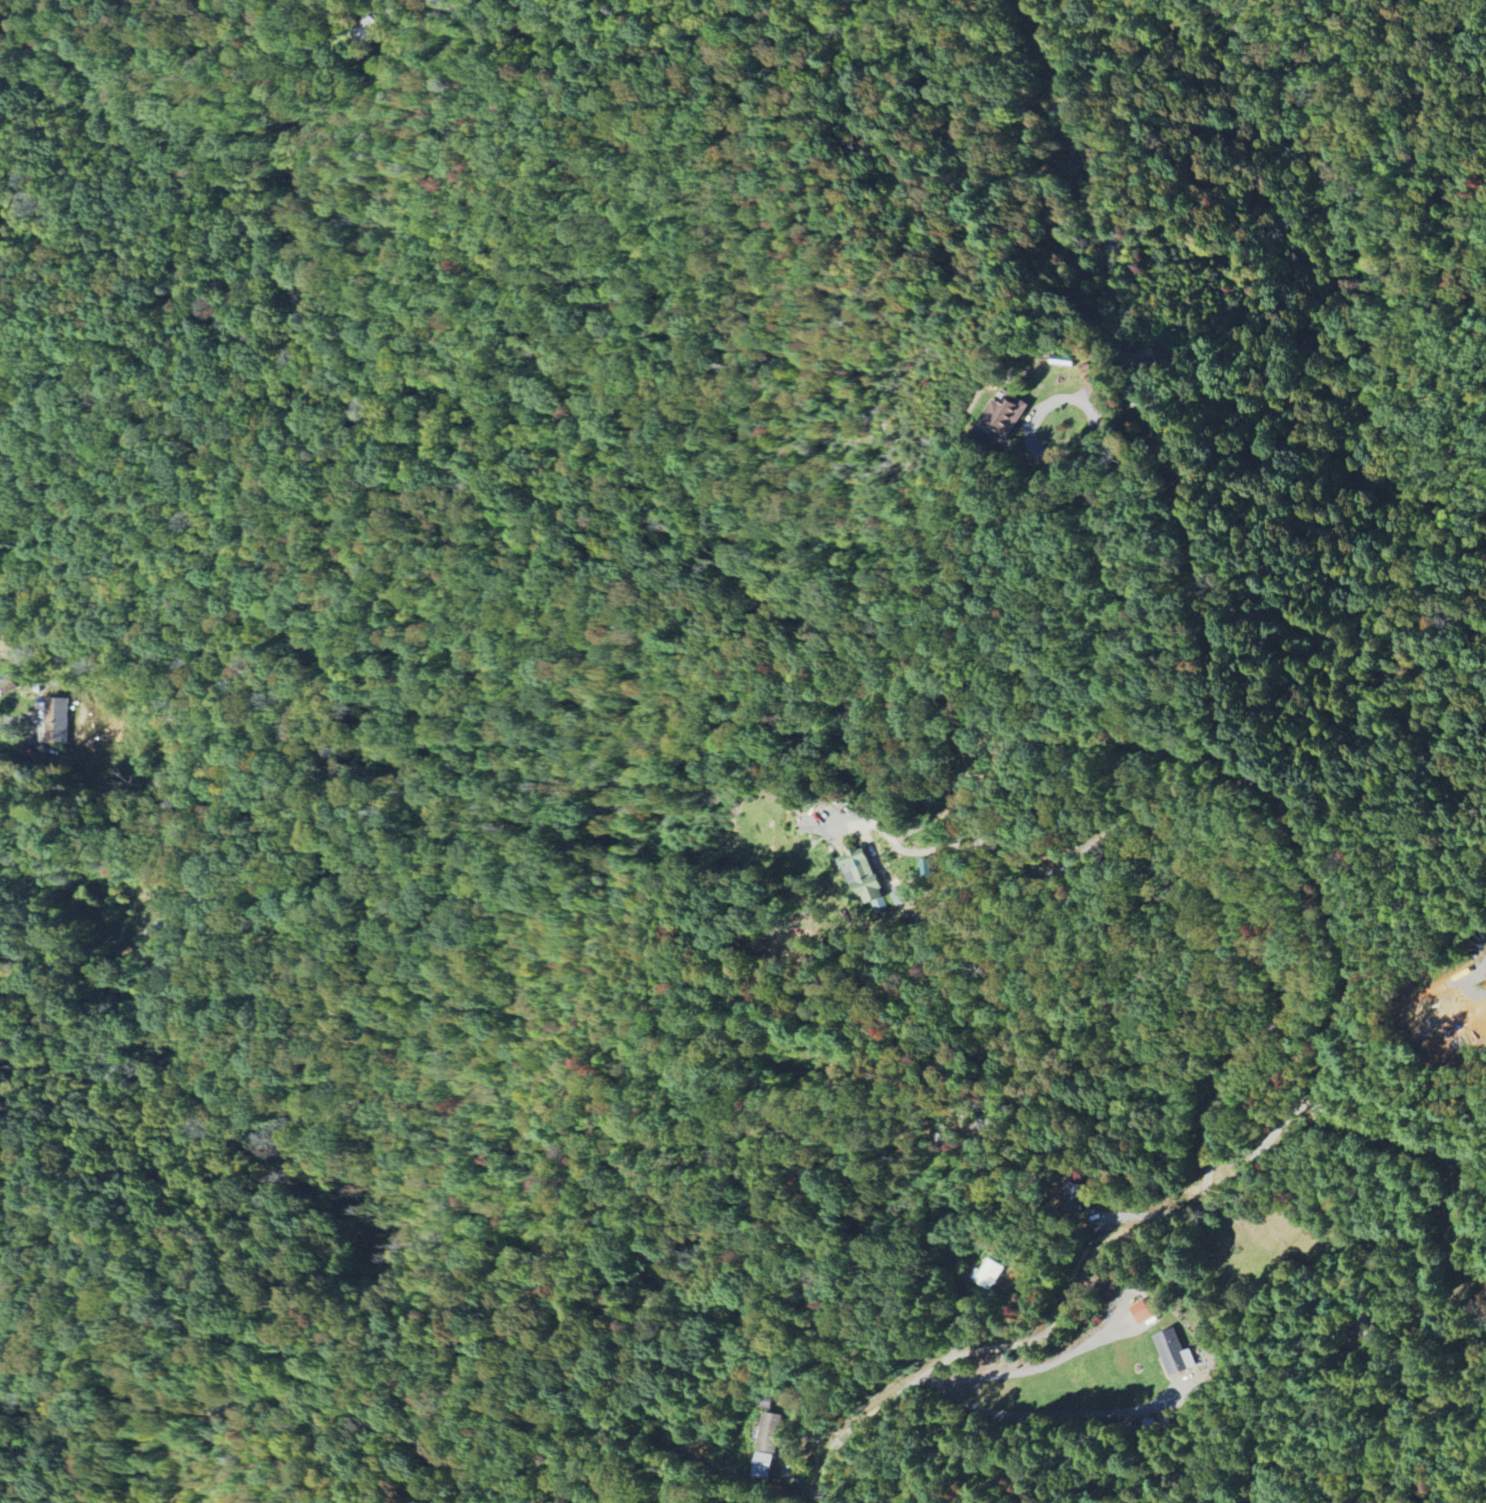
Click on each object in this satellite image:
building: (1092, 391)
building: (1003, 413)
building: (988, 434)
building: (55, 720)
road: (1126, 756)
road: (1003, 843)
building: (929, 868)
building: (860, 875)
building: (900, 898)
road: (1325, 1110)
building: (990, 1273)
building: (1142, 1311)
road: (1007, 1345)
building: (1172, 1352)
road: (1029, 1371)
road: (1043, 1414)
building: (768, 1432)
building: (761, 1465)

